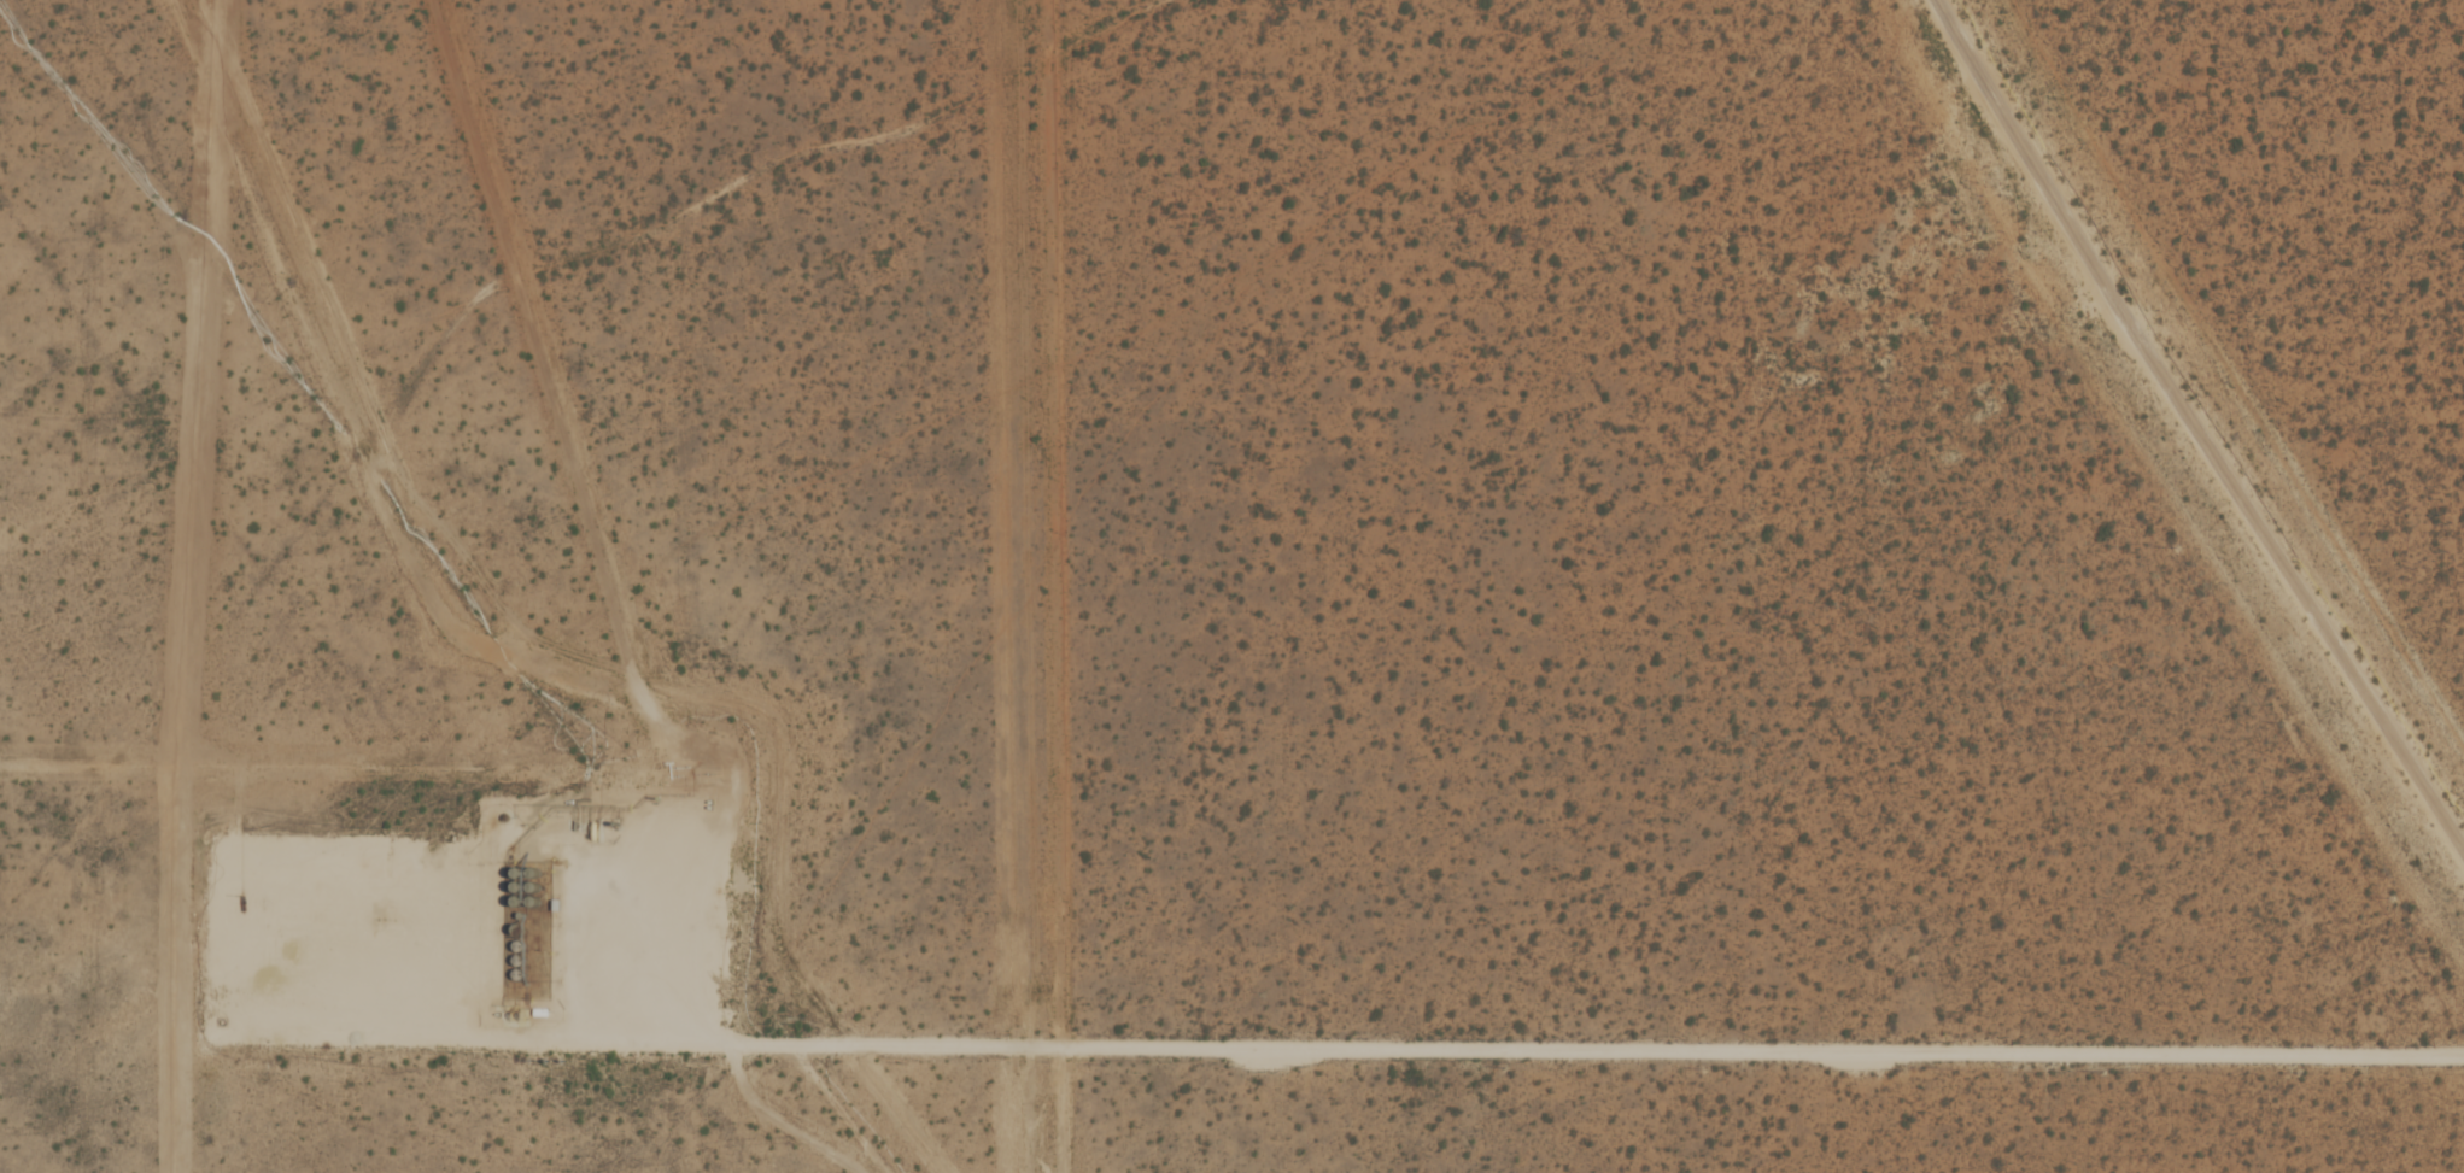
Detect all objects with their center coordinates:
road: (2177, 447)
road: (1341, 1043)

